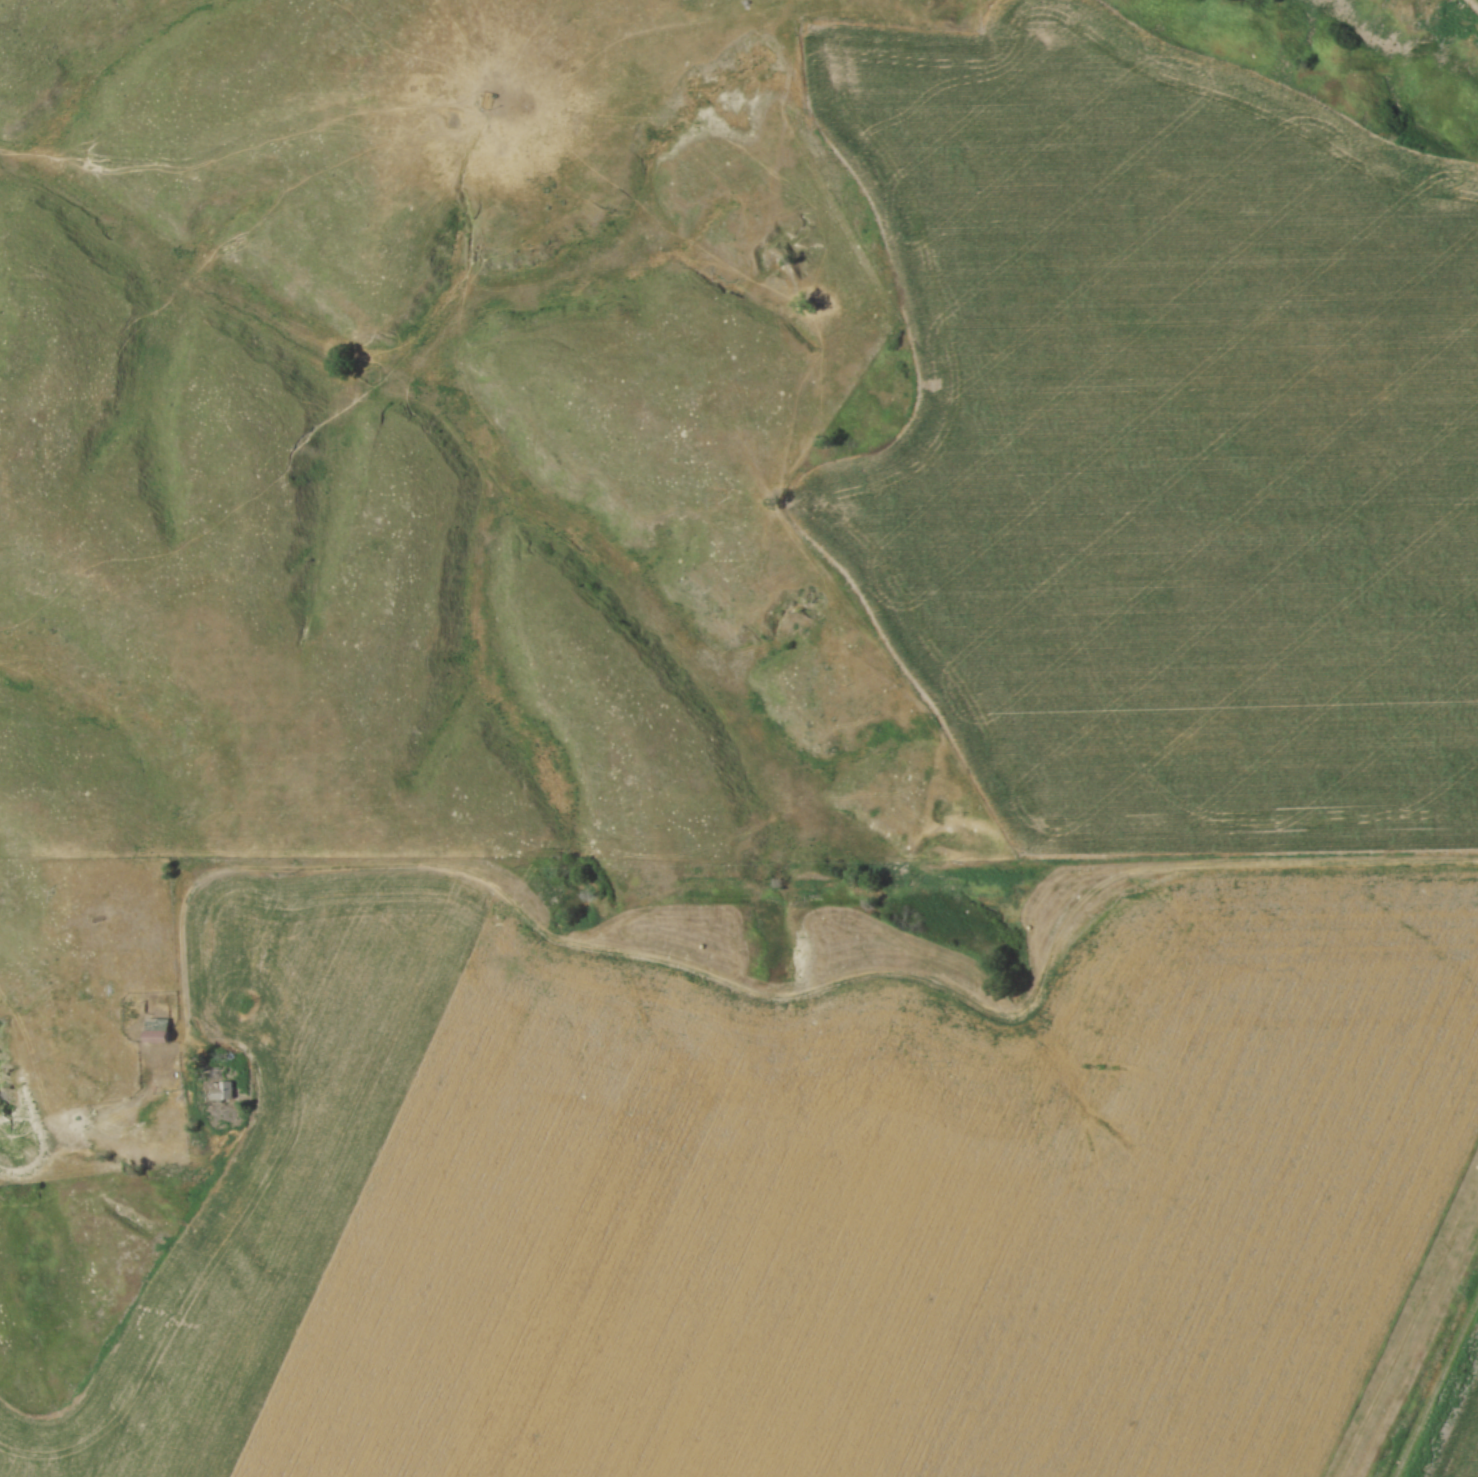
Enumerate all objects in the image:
crop: (1472, 3)
crop: (1171, 434)
building: (152, 1029)
building: (217, 1089)
crop: (795, 1194)
railway: (1443, 1400)

